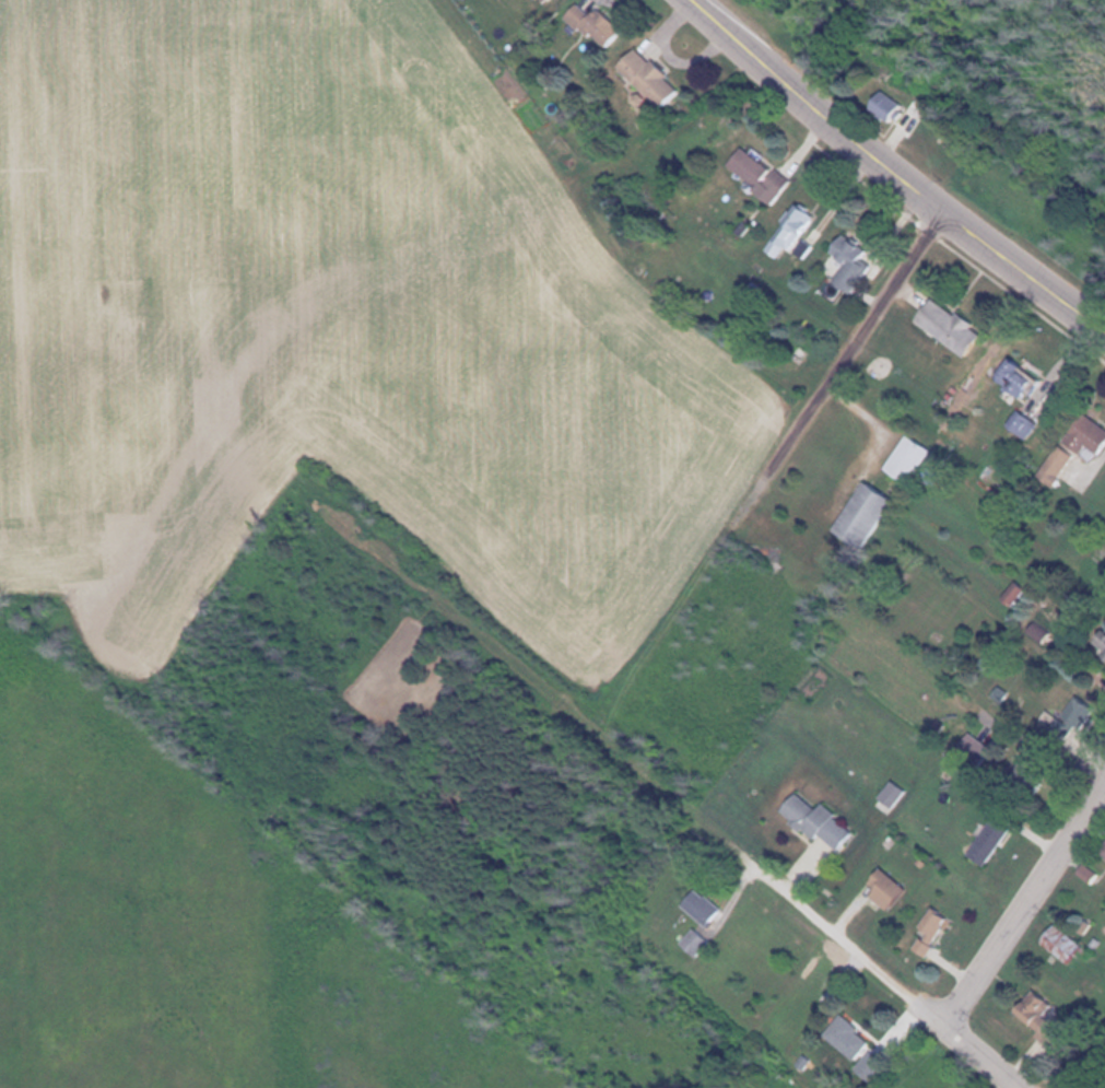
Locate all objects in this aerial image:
building: (556, 0)
building: (608, 25)
building: (660, 78)
building: (907, 110)
road: (895, 166)
building: (765, 172)
building: (802, 231)
building: (860, 259)
building: (957, 325)
road: (857, 342)
building: (1021, 370)
building: (1092, 434)
building: (916, 457)
building: (1066, 463)
building: (873, 514)
building: (1022, 592)
building: (1086, 712)
building: (1042, 763)
building: (900, 793)
building: (826, 820)
building: (999, 832)
building: (709, 906)
road: (1025, 908)
building: (938, 929)
building: (702, 941)
building: (1070, 944)
road: (858, 949)
building: (1049, 1017)
building: (857, 1037)

